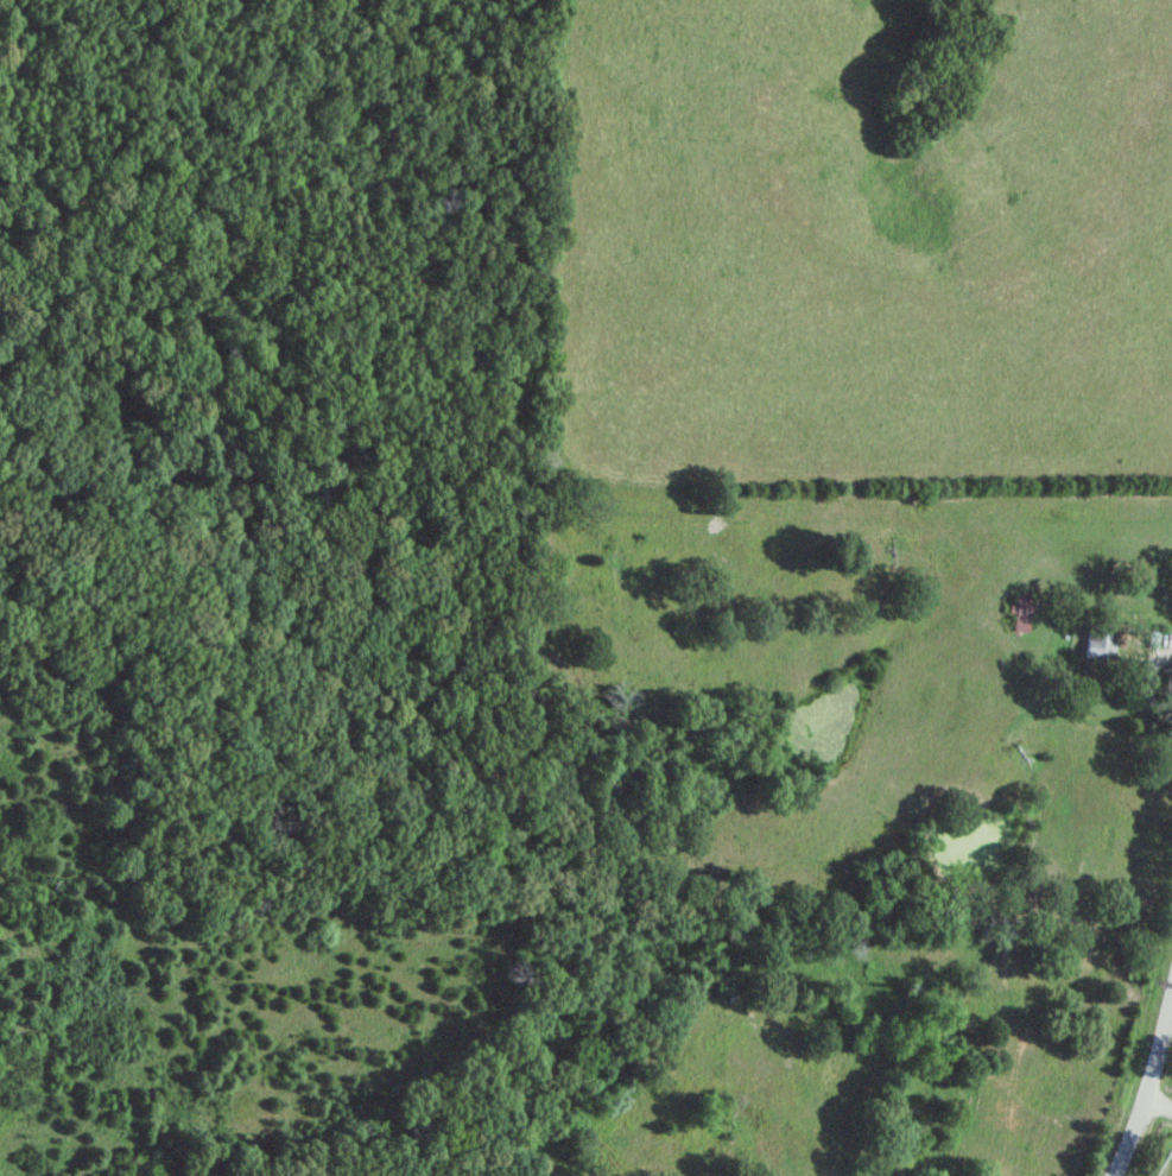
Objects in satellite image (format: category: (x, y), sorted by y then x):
building: (1020, 614)
road: (1145, 1080)
road: (1154, 1101)

